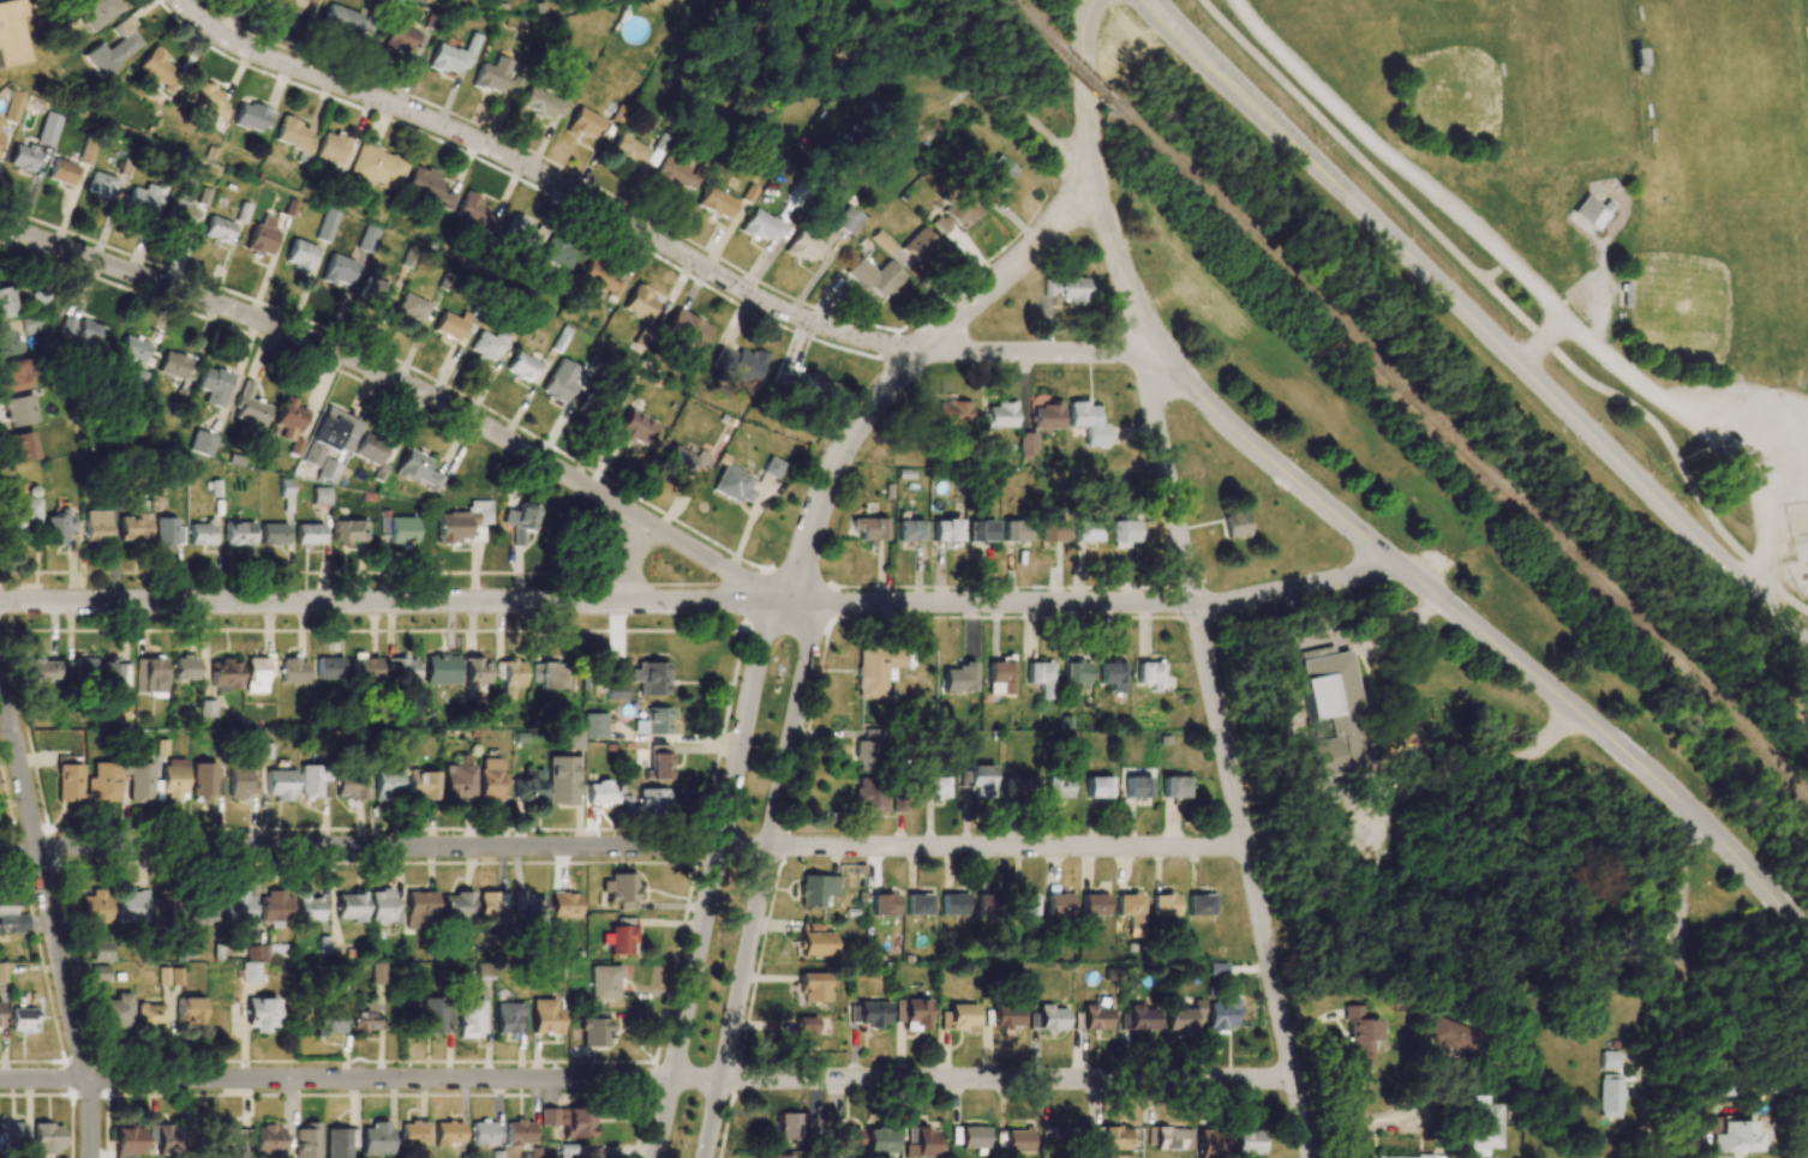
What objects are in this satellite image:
building: (286, 4)
building: (95, 12)
building: (348, 22)
railway: (1029, 24)
building: (11, 34)
building: (401, 38)
building: (113, 50)
building: (454, 55)
road: (928, 58)
building: (157, 70)
railway: (1080, 74)
building: (496, 76)
park: (1567, 80)
building: (204, 97)
park: (1731, 98)
building: (544, 103)
building: (14, 107)
building: (252, 116)
building: (585, 124)
building: (49, 128)
building: (293, 134)
building: (330, 148)
building: (657, 149)
building: (629, 150)
building: (88, 152)
building: (24, 157)
building: (377, 167)
building: (62, 172)
building: (676, 174)
building: (995, 174)
road: (550, 179)
road: (1091, 181)
building: (101, 185)
road: (1421, 185)
building: (427, 187)
building: (146, 199)
building: (717, 203)
building: (180, 211)
building: (1591, 211)
building: (475, 214)
building: (957, 214)
building: (848, 220)
building: (327, 226)
building: (761, 226)
building: (218, 229)
building: (517, 232)
building: (367, 239)
building: (261, 240)
building: (920, 245)
building: (803, 247)
building: (557, 253)
building: (300, 254)
building: (337, 270)
road: (1495, 271)
building: (874, 276)
building: (601, 280)
building: (1048, 286)
building: (1073, 289)
building: (375, 290)
building: (6, 302)
building: (640, 304)
road: (1509, 306)
park: (1678, 307)
building: (411, 310)
building: (451, 325)
road: (1475, 325)
building: (687, 329)
building: (82, 331)
building: (8, 342)
building: (489, 344)
building: (132, 349)
road: (1038, 353)
building: (738, 364)
building: (173, 365)
road: (905, 365)
building: (523, 367)
building: (14, 374)
building: (561, 380)
building: (802, 382)
road: (405, 384)
building: (214, 385)
building: (250, 407)
building: (19, 410)
building: (951, 413)
building: (999, 416)
building: (1046, 416)
building: (288, 420)
building: (1088, 422)
building: (635, 428)
building: (331, 436)
road: (1712, 438)
building: (1028, 442)
building: (202, 443)
building: (23, 446)
building: (370, 449)
railway: (1461, 450)
building: (682, 460)
building: (773, 467)
building: (418, 469)
building: (329, 470)
building: (734, 485)
building: (285, 487)
building: (321, 496)
building: (520, 522)
building: (465, 523)
building: (1235, 524)
building: (96, 526)
building: (58, 527)
building: (133, 528)
building: (869, 528)
building: (399, 529)
building: (164, 530)
building: (910, 530)
building: (946, 530)
building: (981, 530)
building: (1052, 530)
building: (1085, 530)
building: (349, 532)
building: (1016, 532)
building: (200, 533)
building: (238, 534)
building: (274, 534)
building: (309, 534)
building: (1121, 534)
road: (633, 563)
railway: (1807, 566)
railway: (1806, 577)
road: (393, 602)
road: (1094, 604)
road: (1487, 638)
building: (184, 667)
building: (79, 668)
building: (330, 668)
building: (878, 668)
building: (401, 670)
building: (441, 670)
building: (41, 671)
building: (293, 671)
building: (365, 671)
building: (477, 671)
building: (1077, 674)
building: (150, 676)
building: (226, 676)
building: (256, 676)
building: (550, 676)
building: (1114, 676)
building: (1150, 676)
building: (509, 677)
building: (115, 678)
building: (651, 678)
building: (958, 678)
building: (1041, 678)
building: (615, 691)
building: (208, 708)
building: (1333, 714)
building: (653, 722)
building: (595, 726)
building: (573, 739)
building: (869, 750)
road: (1227, 757)
building: (659, 762)
building: (204, 779)
building: (456, 779)
building: (492, 780)
building: (561, 780)
building: (978, 780)
building: (67, 781)
building: (139, 781)
building: (312, 781)
building: (101, 782)
building: (173, 782)
building: (241, 784)
building: (280, 785)
building: (387, 785)
building: (421, 785)
building: (529, 786)
building: (349, 787)
building: (935, 787)
building: (1017, 787)
building: (1058, 787)
building: (1098, 787)
building: (1137, 787)
building: (1174, 787)
building: (600, 793)
building: (869, 794)
building: (646, 803)
road: (385, 847)
road: (1008, 848)
road: (710, 874)
road: (765, 877)
building: (816, 889)
building: (621, 890)
building: (920, 904)
building: (954, 904)
building: (1029, 904)
building: (564, 905)
building: (885, 905)
building: (988, 905)
building: (1095, 905)
building: (1165, 905)
building: (1199, 905)
building: (131, 906)
building: (238, 906)
building: (351, 906)
building: (456, 906)
building: (1060, 906)
building: (94, 907)
building: (276, 907)
building: (307, 907)
building: (383, 907)
building: (163, 908)
building: (492, 908)
building: (528, 908)
building: (1131, 908)
building: (420, 910)
building: (200, 912)
building: (5, 913)
road: (52, 920)
building: (621, 940)
building: (816, 941)
building: (100, 949)
building: (257, 953)
building: (250, 971)
building: (2, 972)
building: (98, 973)
building: (373, 974)
building: (605, 983)
building: (814, 986)
building: (115, 1010)
building: (188, 1010)
building: (0, 1013)
building: (869, 1013)
building: (149, 1014)
building: (261, 1014)
building: (914, 1014)
building: (436, 1015)
building: (545, 1015)
building: (1222, 1015)
building: (365, 1016)
building: (1007, 1016)
building: (1183, 1016)
building: (471, 1018)
building: (509, 1018)
building: (959, 1018)
building: (1048, 1018)
building: (1095, 1018)
building: (1138, 1019)
building: (24, 1020)
building: (328, 1021)
building: (594, 1028)
building: (804, 1032)
building: (1359, 1034)
building: (1450, 1038)
building: (1606, 1060)
road: (360, 1079)
road: (1007, 1080)
building: (1719, 1088)
building: (1609, 1096)
road: (1360, 1115)
building: (569, 1121)
building: (792, 1126)
building: (1484, 1126)
building: (414, 1133)
building: (448, 1133)
building: (483, 1133)
building: (519, 1133)
building: (1054, 1133)
building: (12, 1134)
building: (846, 1135)
building: (231, 1136)
building: (969, 1136)
building: (47, 1138)
building: (1115, 1138)
building: (1168, 1138)
building: (1736, 1138)
building: (164, 1139)
building: (268, 1139)
building: (376, 1139)
building: (1018, 1140)
building: (127, 1141)
building: (306, 1141)
building: (340, 1141)
building: (881, 1141)
building: (922, 1142)
building: (1247, 1142)
building: (1213, 1144)
building: (1800, 1148)
building: (567, 1151)
building: (496, 1154)
building: (783, 1157)
building: (1411, 1157)

